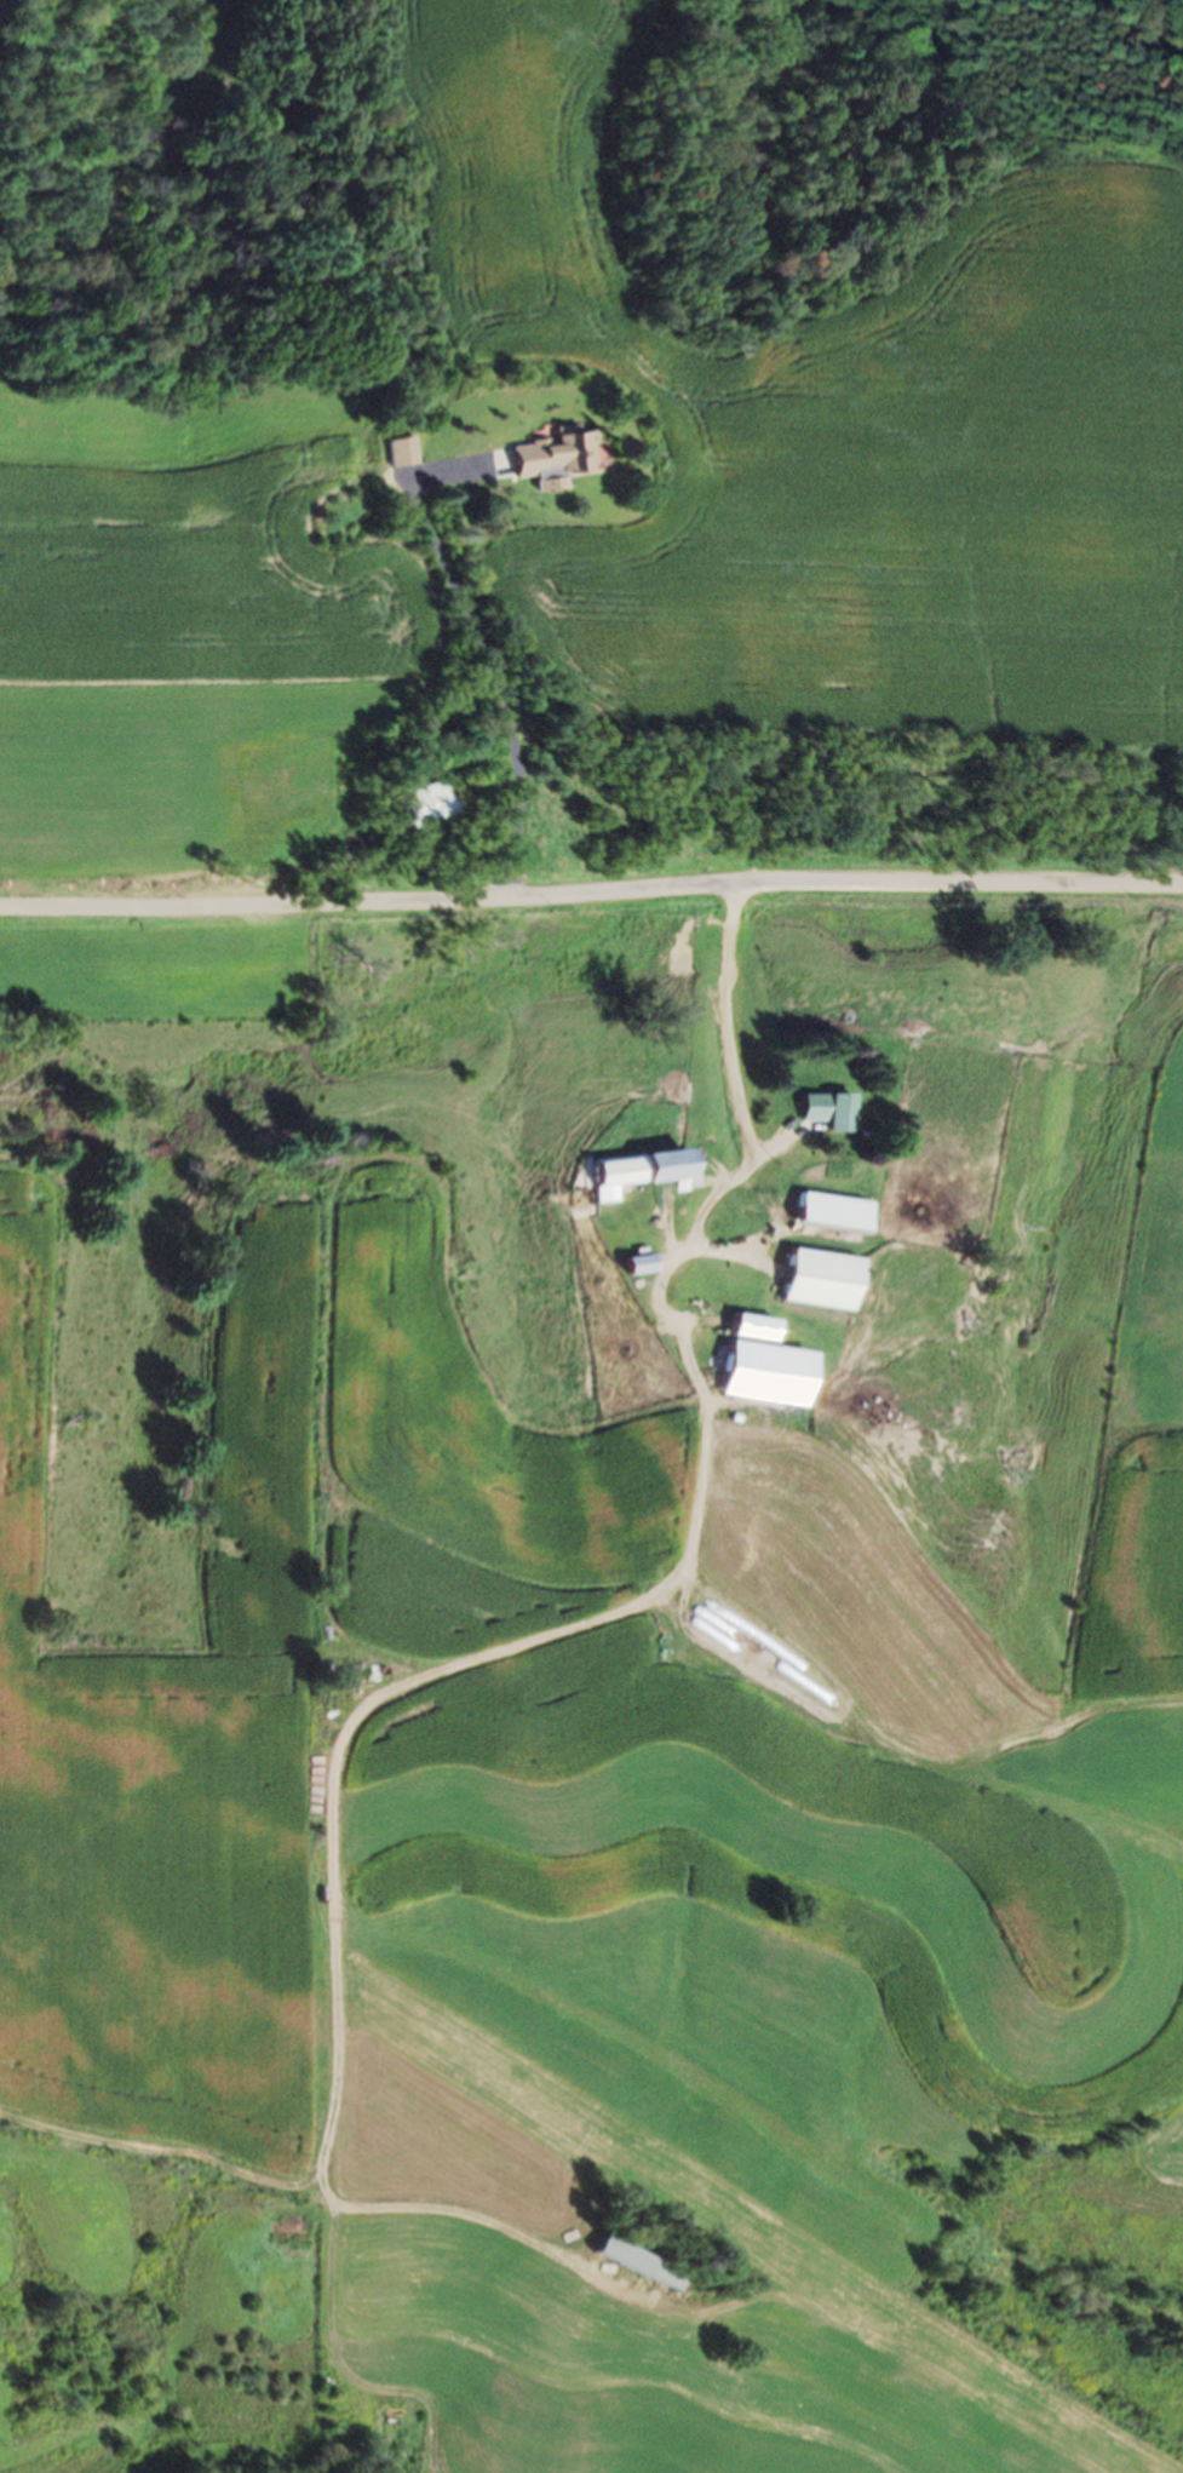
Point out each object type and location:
building: (547, 455)
road: (484, 655)
building: (423, 808)
road: (591, 891)
building: (825, 1111)
building: (633, 1169)
building: (827, 1212)
building: (637, 1264)
building: (817, 1279)
building: (758, 1365)
building: (630, 2263)

